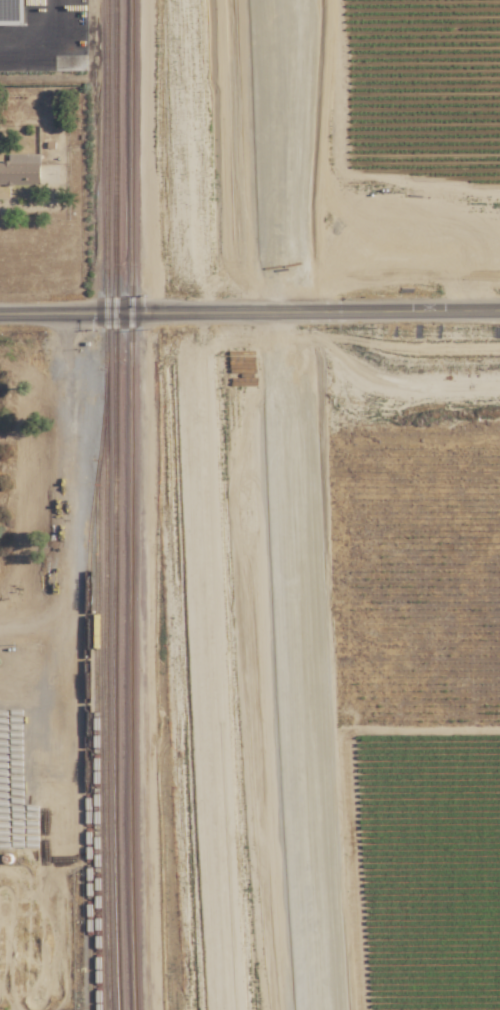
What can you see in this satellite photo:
building: (17, 13)
road: (0, 49)
railway: (293, 51)
railway: (101, 130)
railway: (287, 140)
building: (20, 174)
road: (249, 313)
railway: (205, 504)
railway: (106, 505)
railway: (116, 505)
railway: (131, 505)
railway: (214, 505)
railway: (244, 505)
railway: (262, 505)
railway: (282, 505)
railway: (87, 697)
railway: (97, 740)

